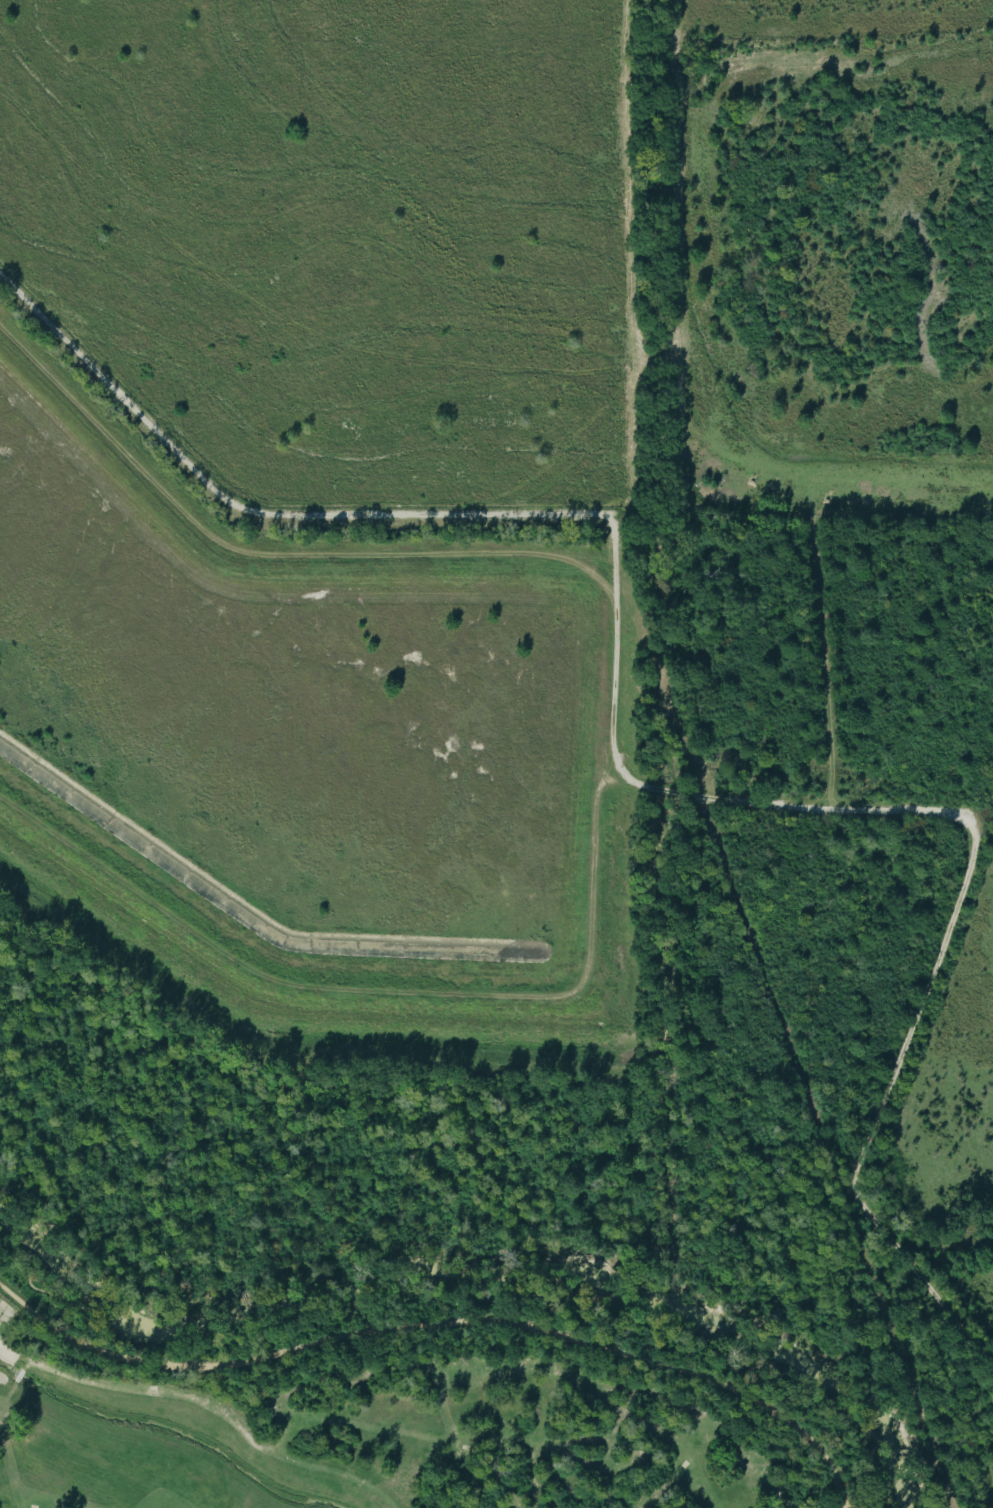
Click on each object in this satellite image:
river: (486, 1269)
road: (445, 1325)
road: (850, 1505)

